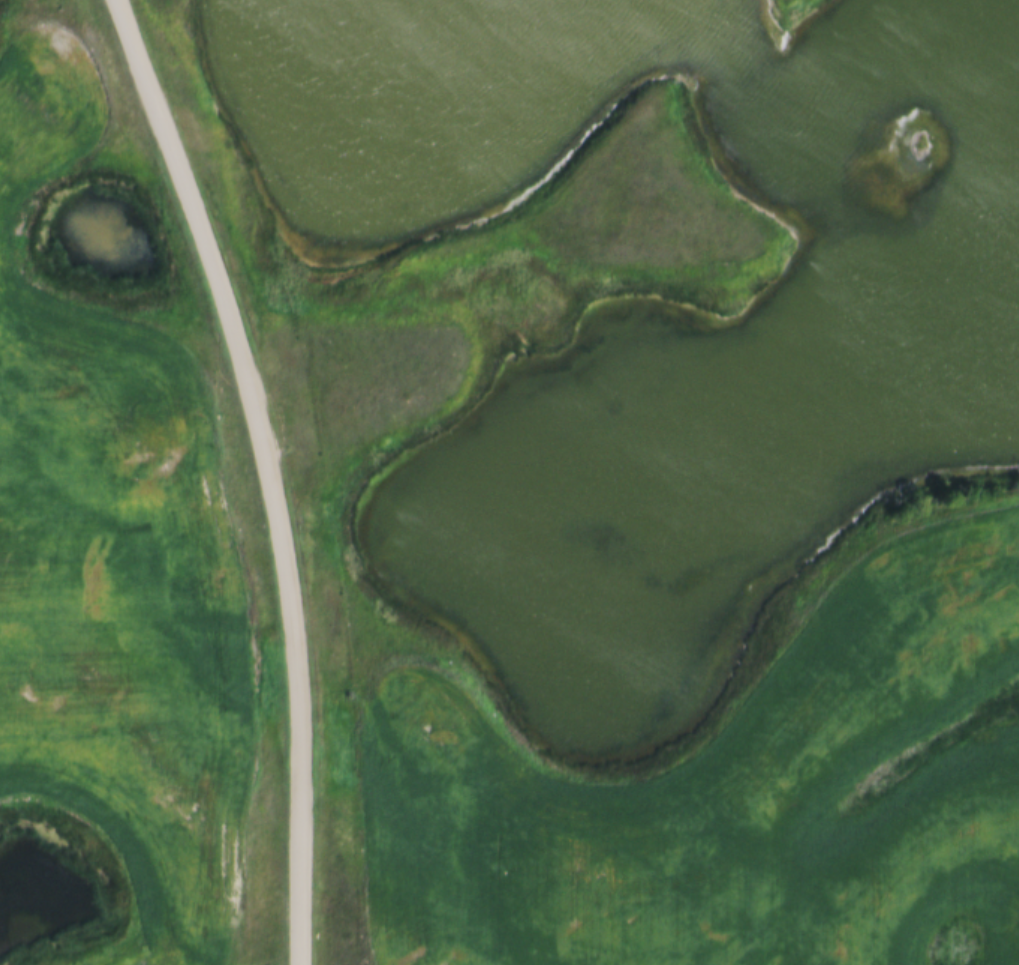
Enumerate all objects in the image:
road: (267, 471)

